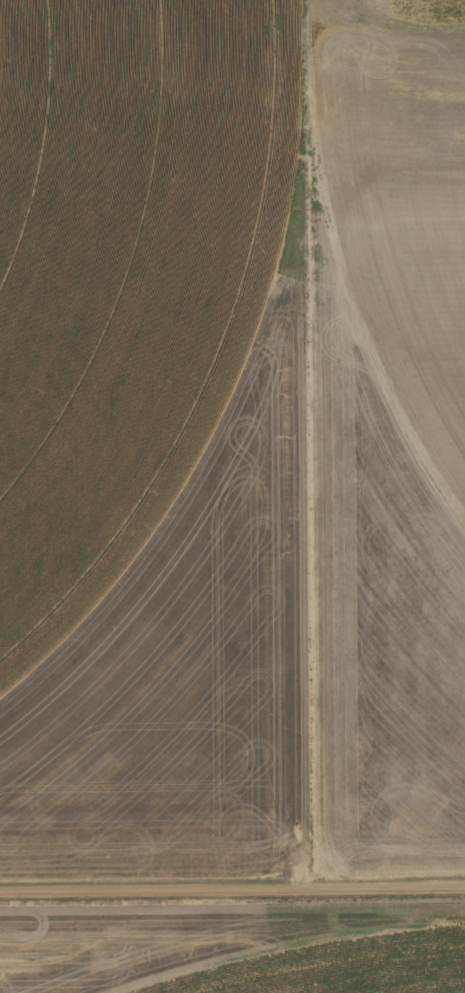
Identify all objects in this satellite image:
road: (232, 887)

